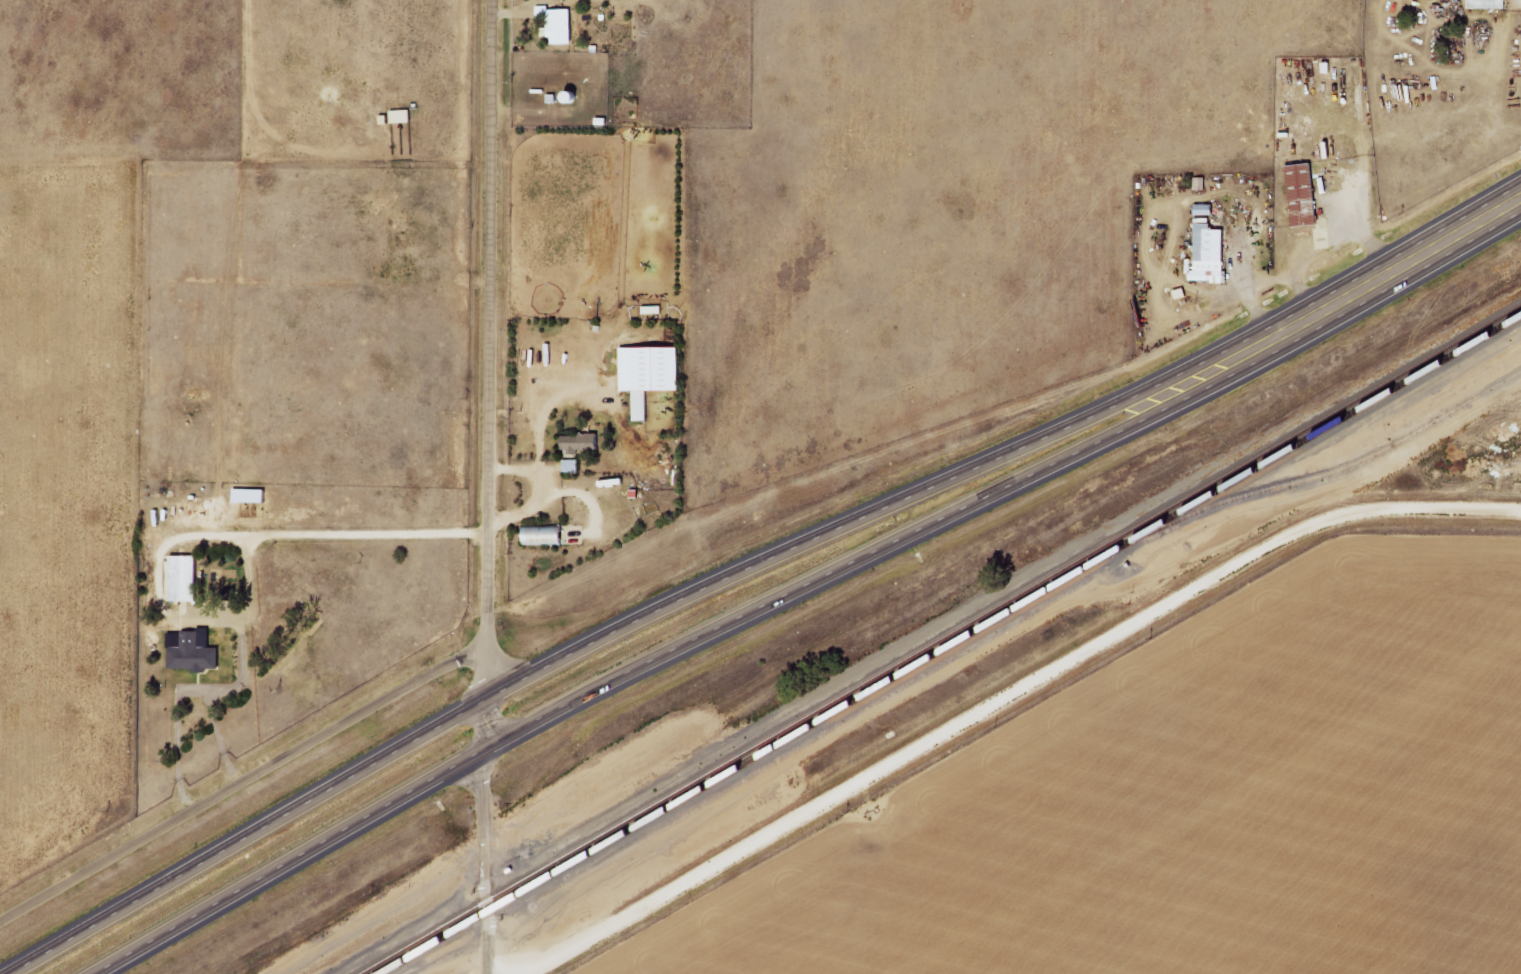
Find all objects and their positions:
building: (1490, 4)
building: (561, 24)
building: (404, 116)
building: (1305, 195)
building: (1207, 210)
building: (1212, 253)
road: (1343, 299)
building: (652, 373)
building: (584, 443)
building: (572, 466)
railway: (1335, 469)
road: (487, 487)
building: (253, 495)
building: (547, 535)
building: (186, 578)
railway: (943, 639)
railway: (951, 644)
building: (194, 651)
road: (573, 653)
road: (627, 674)
road: (1006, 697)
road: (242, 778)

